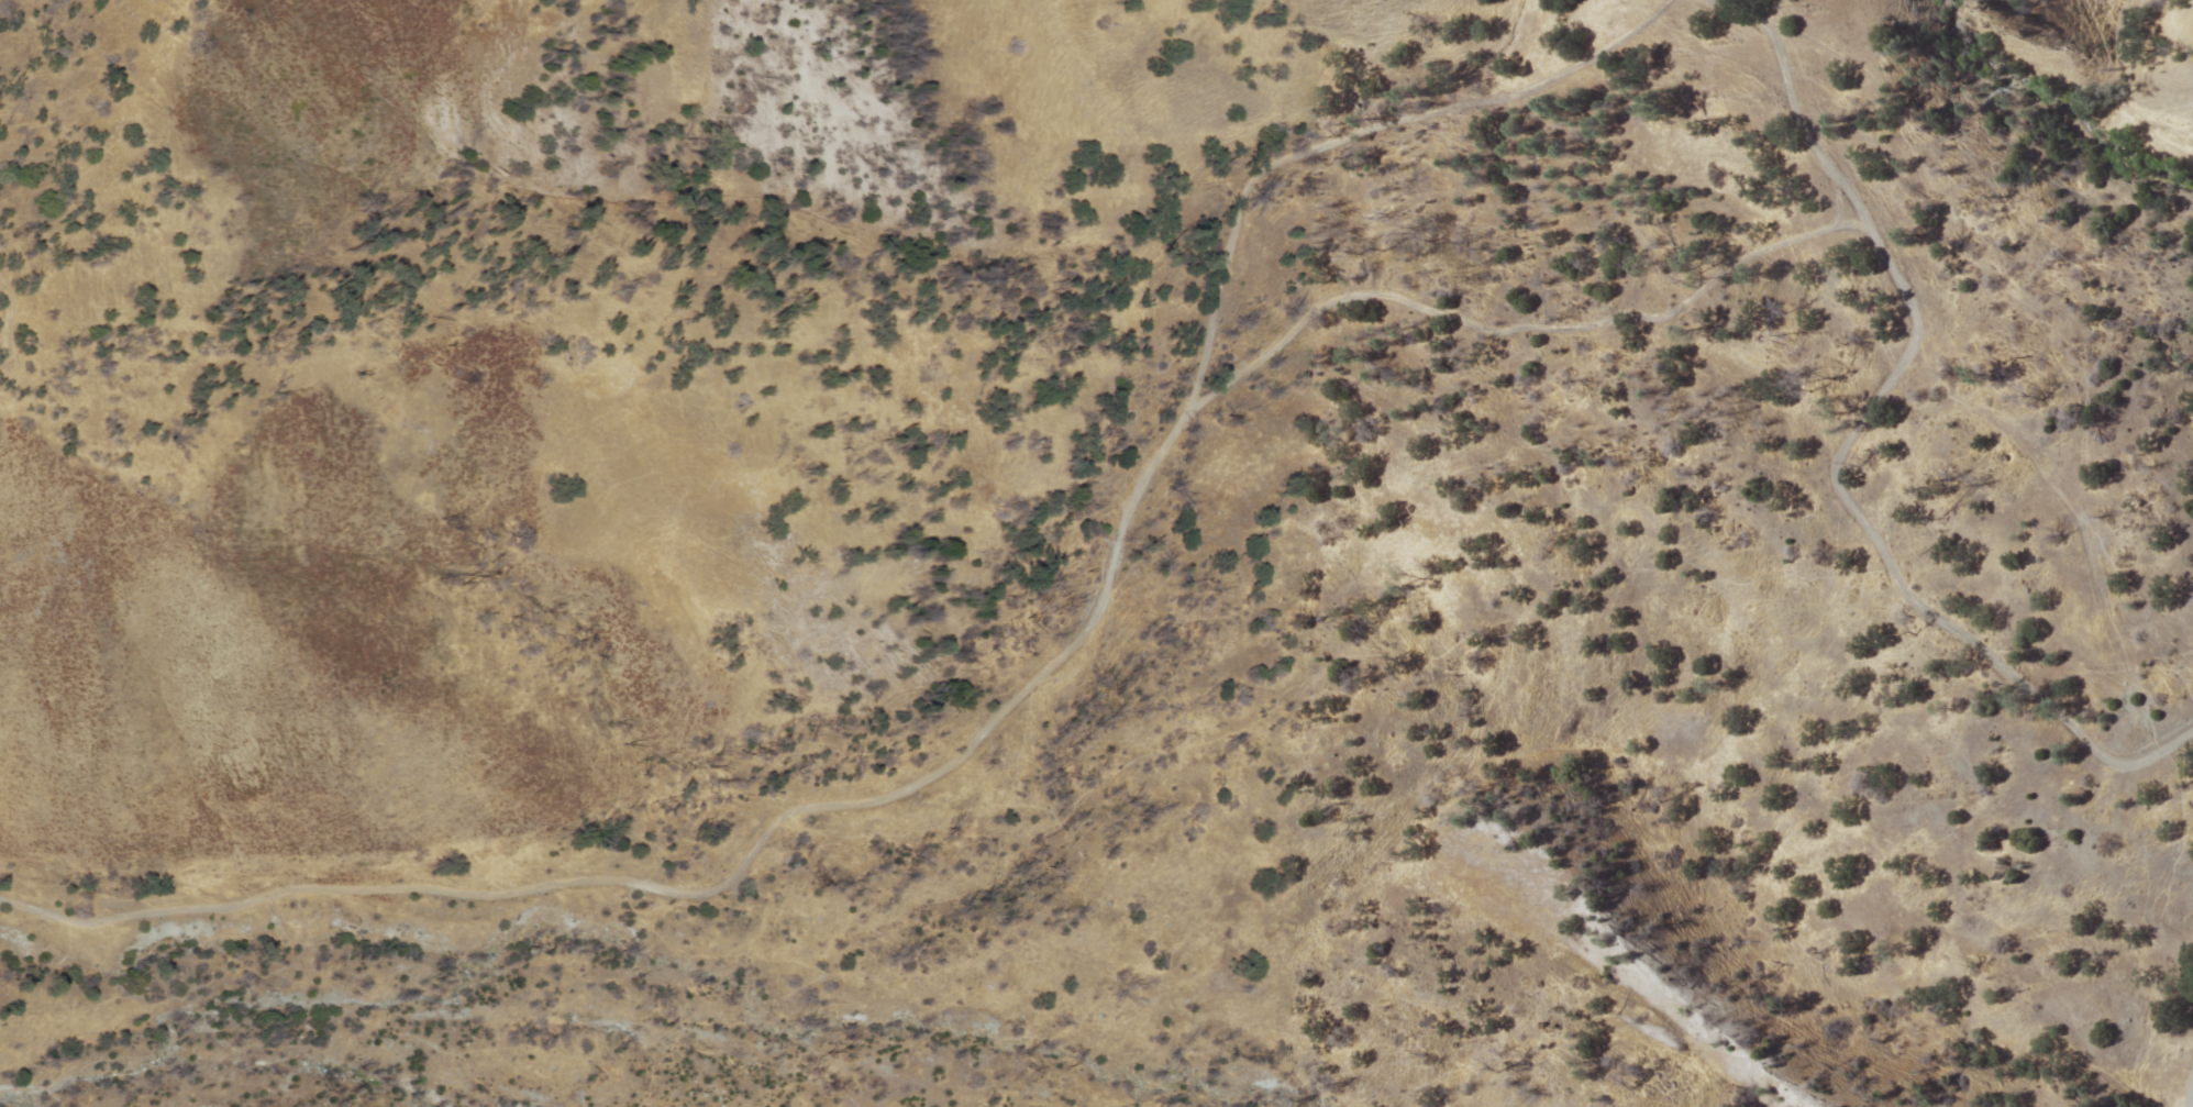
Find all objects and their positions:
road: (2149, 108)
road: (1849, 440)
road: (2180, 734)
road: (2192, 1102)

